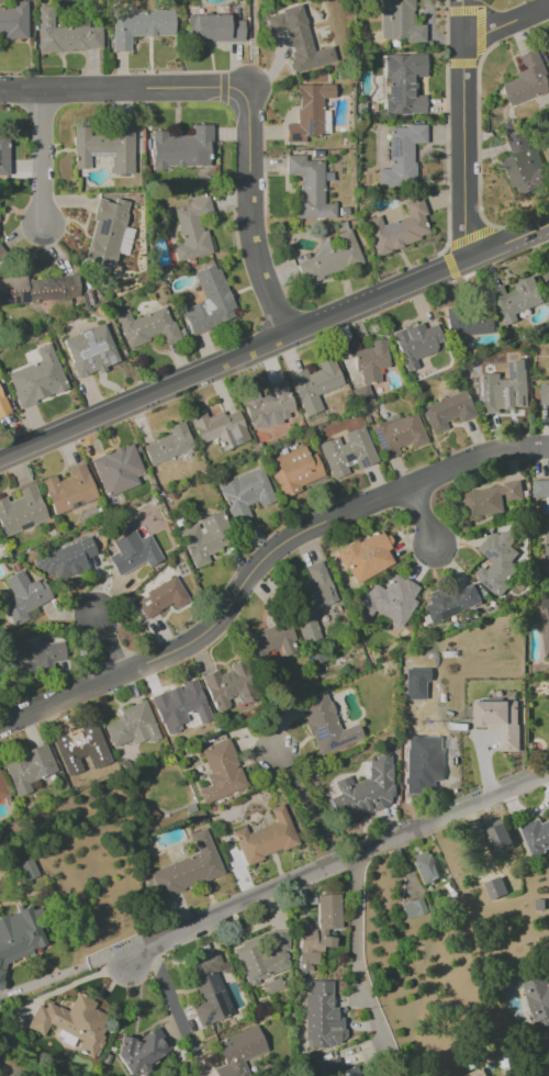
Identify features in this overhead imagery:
road: (462, 19)
building: (13, 20)
building: (399, 21)
building: (138, 26)
building: (213, 29)
building: (65, 35)
building: (298, 40)
building: (548, 44)
building: (525, 79)
building: (404, 83)
road: (114, 89)
road: (462, 103)
building: (307, 112)
building: (103, 148)
building: (181, 148)
building: (3, 155)
building: (401, 156)
road: (43, 160)
building: (522, 165)
building: (309, 188)
road: (248, 211)
building: (397, 227)
building: (192, 229)
building: (107, 234)
building: (546, 278)
building: (38, 289)
building: (515, 300)
building: (208, 302)
building: (468, 321)
building: (147, 327)
road: (274, 343)
building: (416, 343)
building: (90, 350)
building: (370, 360)
building: (37, 378)
building: (314, 385)
building: (504, 389)
building: (360, 394)
building: (544, 395)
building: (2, 406)
building: (268, 406)
building: (446, 411)
building: (220, 428)
building: (397, 435)
building: (168, 445)
building: (347, 451)
building: (116, 470)
building: (295, 471)
building: (540, 489)
building: (68, 490)
building: (244, 493)
building: (488, 500)
building: (21, 511)
road: (422, 519)
building: (204, 538)
building: (546, 549)
building: (132, 552)
building: (365, 557)
building: (65, 560)
building: (496, 561)
road: (260, 562)
building: (23, 597)
building: (160, 598)
building: (313, 601)
building: (388, 601)
building: (449, 602)
building: (545, 624)
road: (104, 646)
building: (32, 657)
building: (548, 674)
building: (229, 687)
building: (182, 704)
building: (410, 706)
building: (500, 721)
building: (325, 725)
building: (132, 726)
building: (80, 748)
building: (27, 767)
building: (220, 772)
building: (414, 772)
building: (2, 791)
building: (363, 792)
road: (307, 807)
building: (536, 834)
building: (266, 837)
building: (494, 837)
road: (333, 863)
building: (188, 867)
building: (424, 867)
building: (24, 868)
building: (494, 888)
building: (413, 908)
building: (327, 911)
building: (20, 934)
building: (311, 949)
building: (262, 955)
road: (357, 968)
road: (64, 972)
road: (65, 986)
building: (206, 990)
road: (172, 1004)
building: (539, 1005)
building: (322, 1017)
building: (70, 1023)
building: (143, 1049)
building: (238, 1052)
building: (474, 1073)

